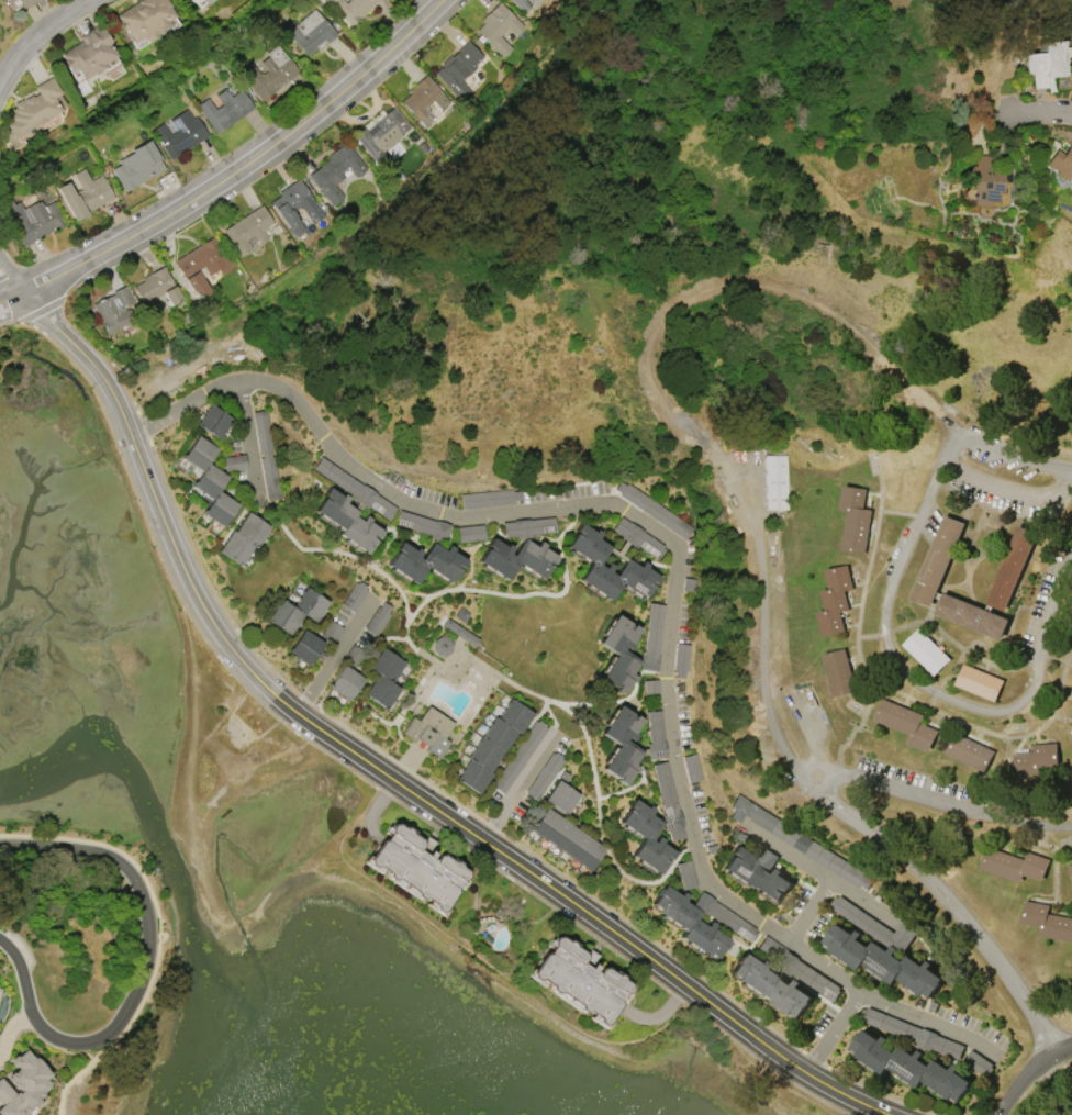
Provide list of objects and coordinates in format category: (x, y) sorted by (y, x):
building: (25, 2)
building: (206, 2)
building: (526, 3)
building: (353, 9)
building: (145, 20)
building: (498, 27)
building: (311, 33)
road: (51, 44)
building: (90, 53)
building: (1047, 65)
building: (458, 70)
building: (270, 74)
building: (423, 100)
building: (225, 109)
building: (34, 110)
road: (1041, 118)
building: (380, 132)
building: (179, 134)
building: (1061, 163)
building: (137, 166)
road: (246, 168)
building: (335, 172)
building: (984, 180)
building: (85, 194)
building: (294, 207)
building: (31, 219)
building: (248, 230)
building: (203, 264)
road: (10, 278)
building: (156, 288)
road: (10, 300)
building: (114, 310)
road: (21, 322)
building: (214, 421)
building: (267, 456)
building: (234, 462)
road: (1054, 469)
building: (210, 481)
building: (775, 482)
road: (1008, 494)
building: (491, 499)
road: (741, 501)
building: (654, 510)
building: (855, 519)
building: (346, 520)
building: (422, 525)
building: (469, 533)
building: (638, 538)
building: (243, 539)
road: (678, 546)
building: (515, 558)
building: (938, 559)
building: (424, 561)
road: (900, 566)
building: (607, 567)
building: (1012, 567)
road: (170, 576)
building: (354, 596)
building: (835, 599)
road: (1056, 605)
building: (297, 610)
building: (972, 615)
building: (331, 632)
building: (459, 632)
building: (305, 646)
building: (440, 646)
building: (926, 650)
road: (335, 655)
building: (618, 655)
building: (840, 671)
building: (383, 678)
building: (980, 681)
building: (345, 682)
road: (1003, 711)
building: (905, 723)
building: (428, 731)
building: (655, 734)
building: (1071, 739)
building: (621, 744)
building: (492, 745)
building: (970, 751)
building: (518, 756)
building: (1035, 759)
building: (692, 768)
road: (382, 772)
building: (544, 776)
road: (514, 782)
building: (561, 796)
building: (668, 803)
road: (945, 805)
building: (646, 836)
building: (568, 839)
building: (799, 841)
road: (794, 856)
building: (1013, 863)
building: (416, 866)
building: (1070, 869)
building: (758, 873)
building: (685, 874)
road: (828, 879)
road: (536, 895)
building: (1047, 921)
building: (689, 923)
road: (152, 938)
road: (477, 957)
building: (883, 960)
road: (22, 973)
building: (579, 979)
building: (771, 985)
road: (927, 1017)
road: (10, 1028)
building: (903, 1028)
building: (911, 1064)
road: (768, 1066)
road: (1030, 1071)
building: (22, 1085)

